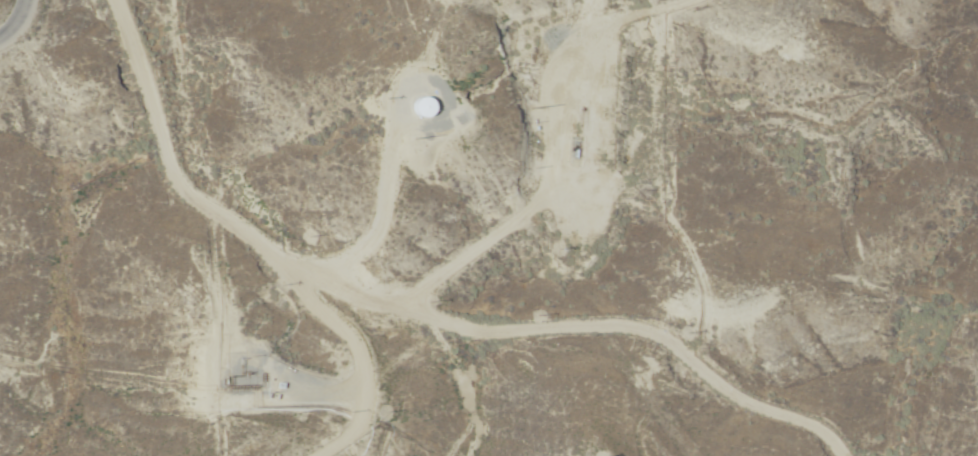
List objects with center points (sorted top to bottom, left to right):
road: (21, 26)
building: (421, 108)
road: (242, 231)
road: (594, 236)

